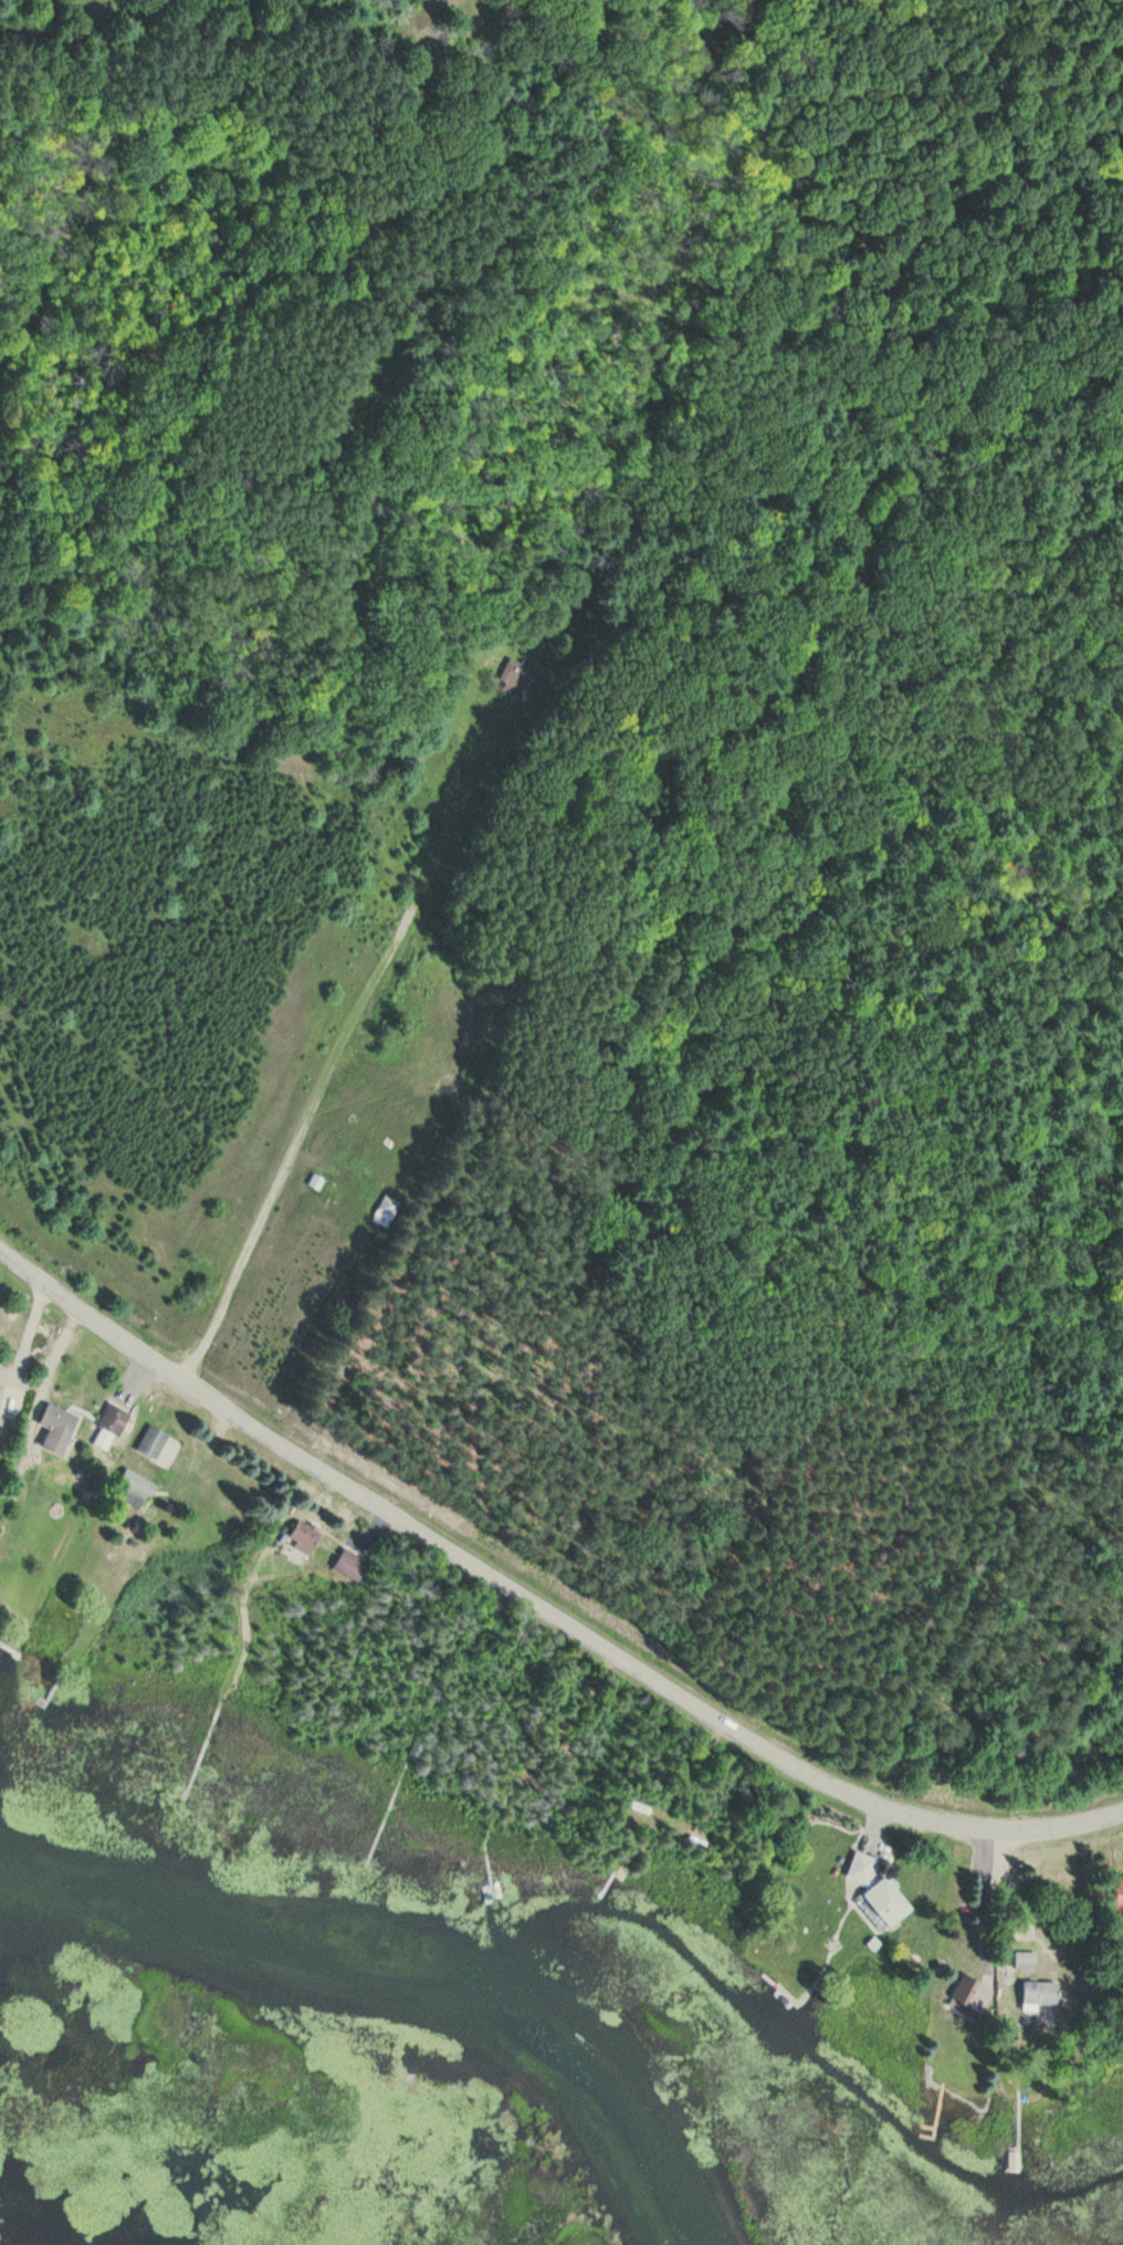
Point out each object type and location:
building: (517, 680)
road: (335, 1065)
building: (385, 1211)
building: (1, 1396)
building: (114, 1419)
building: (59, 1428)
building: (154, 1442)
building: (134, 1489)
building: (304, 1537)
building: (351, 1565)
road: (535, 1611)
building: (862, 1869)
building: (888, 1902)
road: (984, 1902)
road: (1003, 1914)
building: (1025, 1961)
building: (973, 1993)
building: (1041, 1994)

